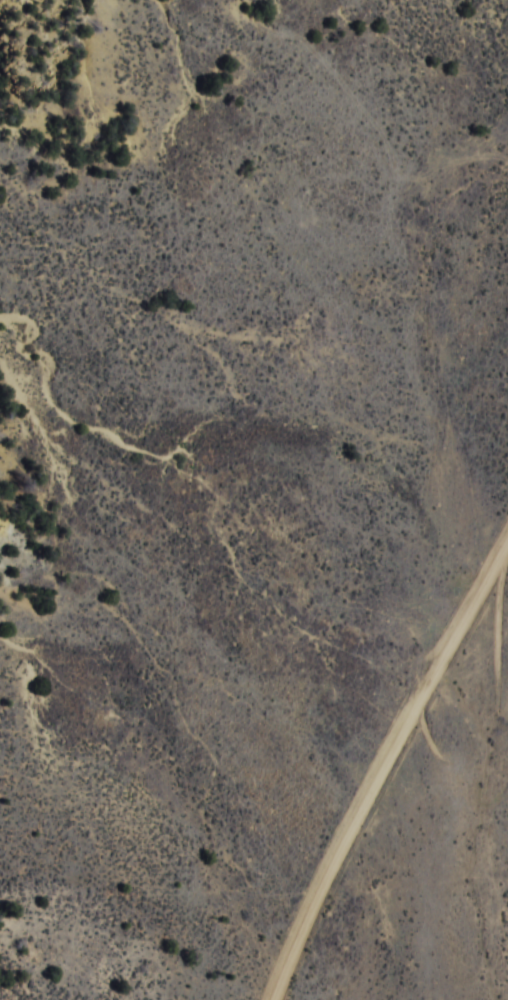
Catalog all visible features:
road: (403, 804)
road: (333, 983)

